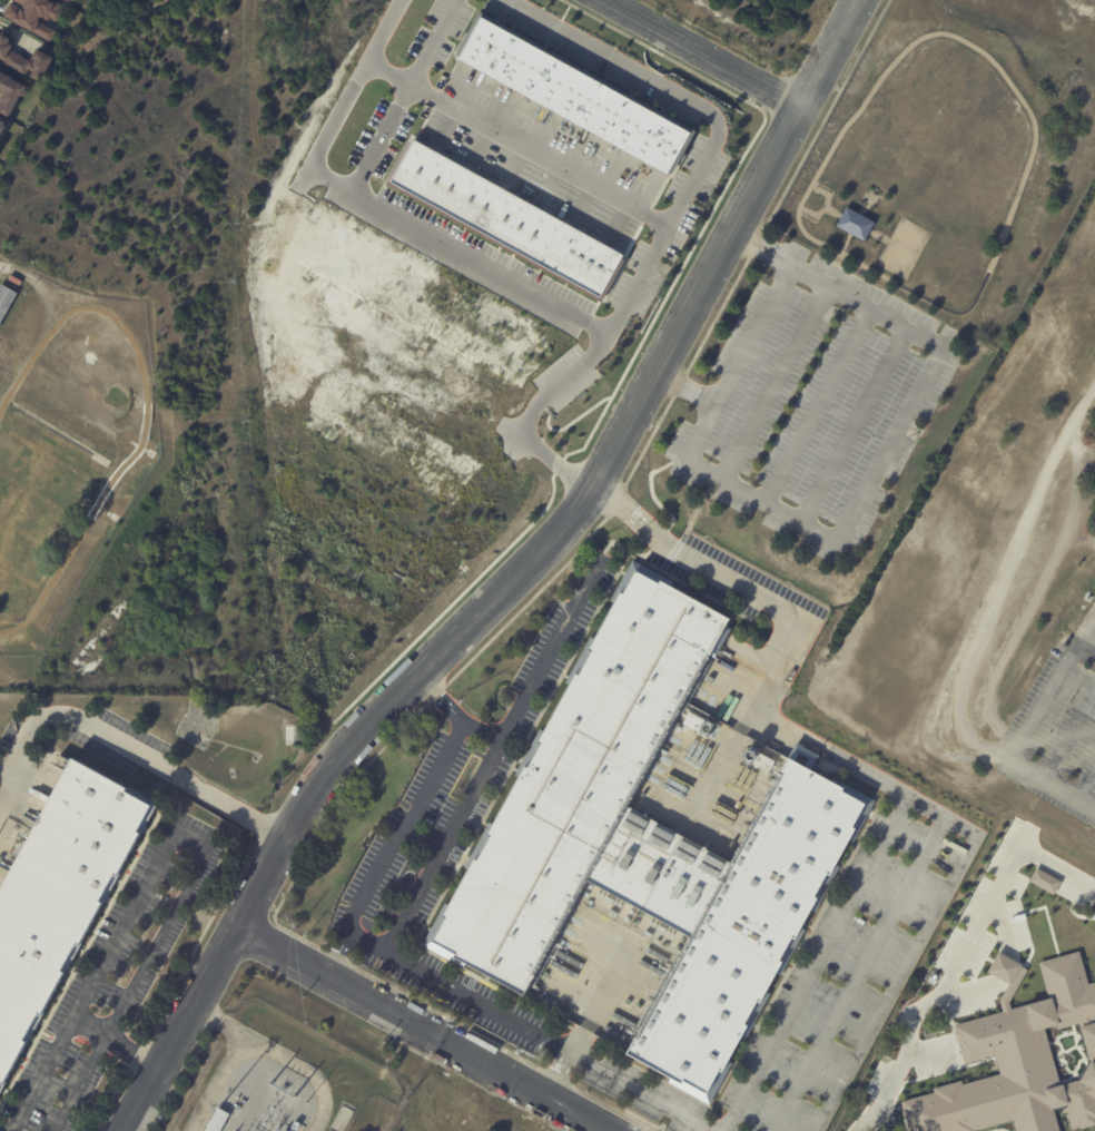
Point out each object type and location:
building: (71, 1)
building: (33, 14)
road: (708, 52)
road: (835, 52)
building: (28, 59)
building: (574, 94)
building: (11, 95)
road: (341, 108)
building: (2, 127)
road: (519, 141)
building: (0, 147)
building: (505, 212)
building: (860, 223)
road: (770, 242)
road: (762, 254)
building: (6, 299)
road: (592, 322)
road: (928, 373)
road: (535, 414)
road: (1003, 584)
road: (471, 622)
road: (1018, 736)
road: (130, 750)
road: (857, 763)
road: (3, 788)
building: (649, 839)
road: (389, 842)
road: (161, 845)
building: (1045, 881)
building: (61, 894)
road: (368, 936)
road: (965, 952)
road: (402, 956)
road: (426, 1027)
building: (1018, 1062)
road: (89, 1064)
road: (552, 1070)
power substation: (279, 1078)
building: (219, 1120)
building: (298, 1125)

